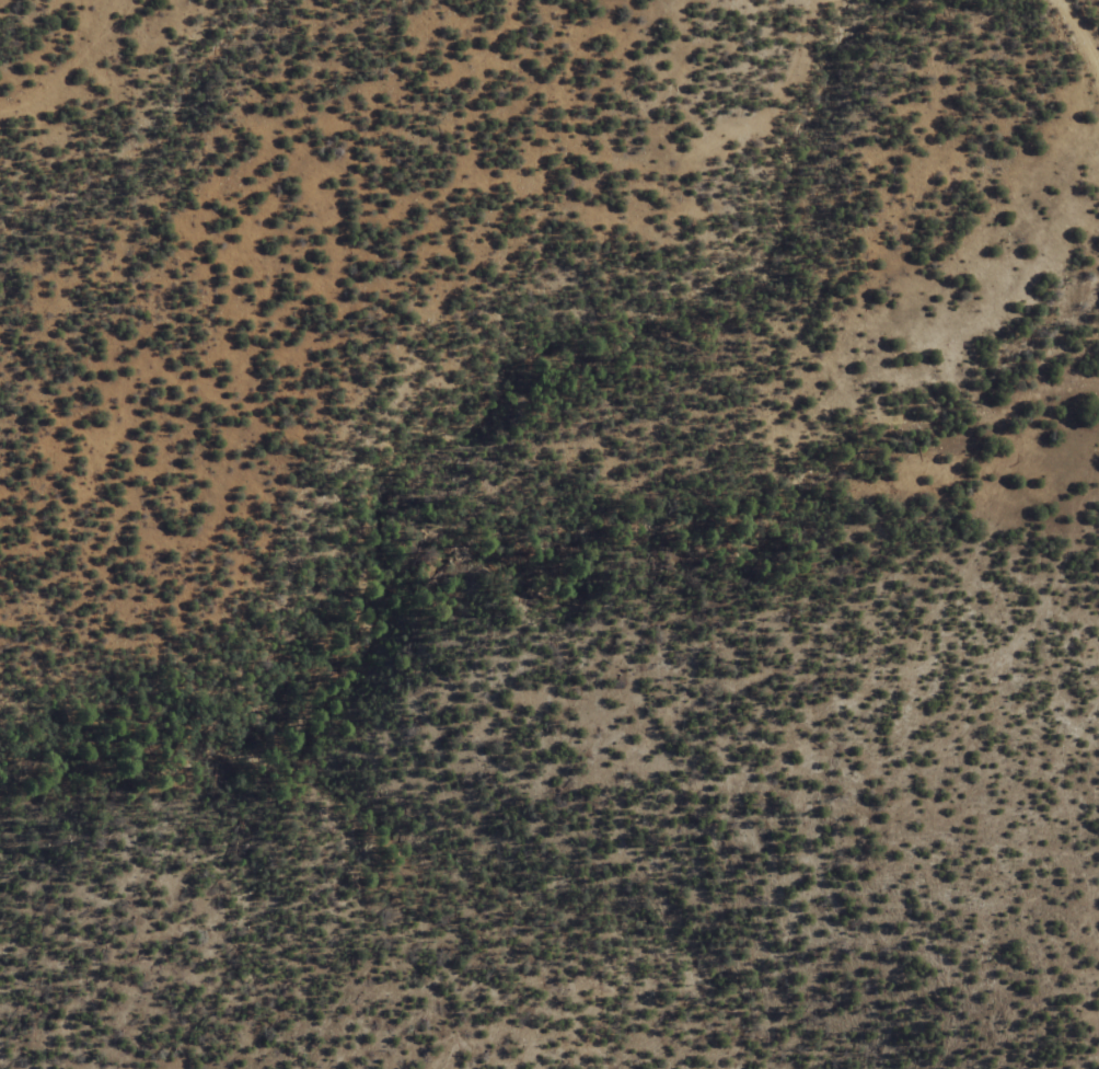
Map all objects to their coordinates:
road: (1071, 27)

